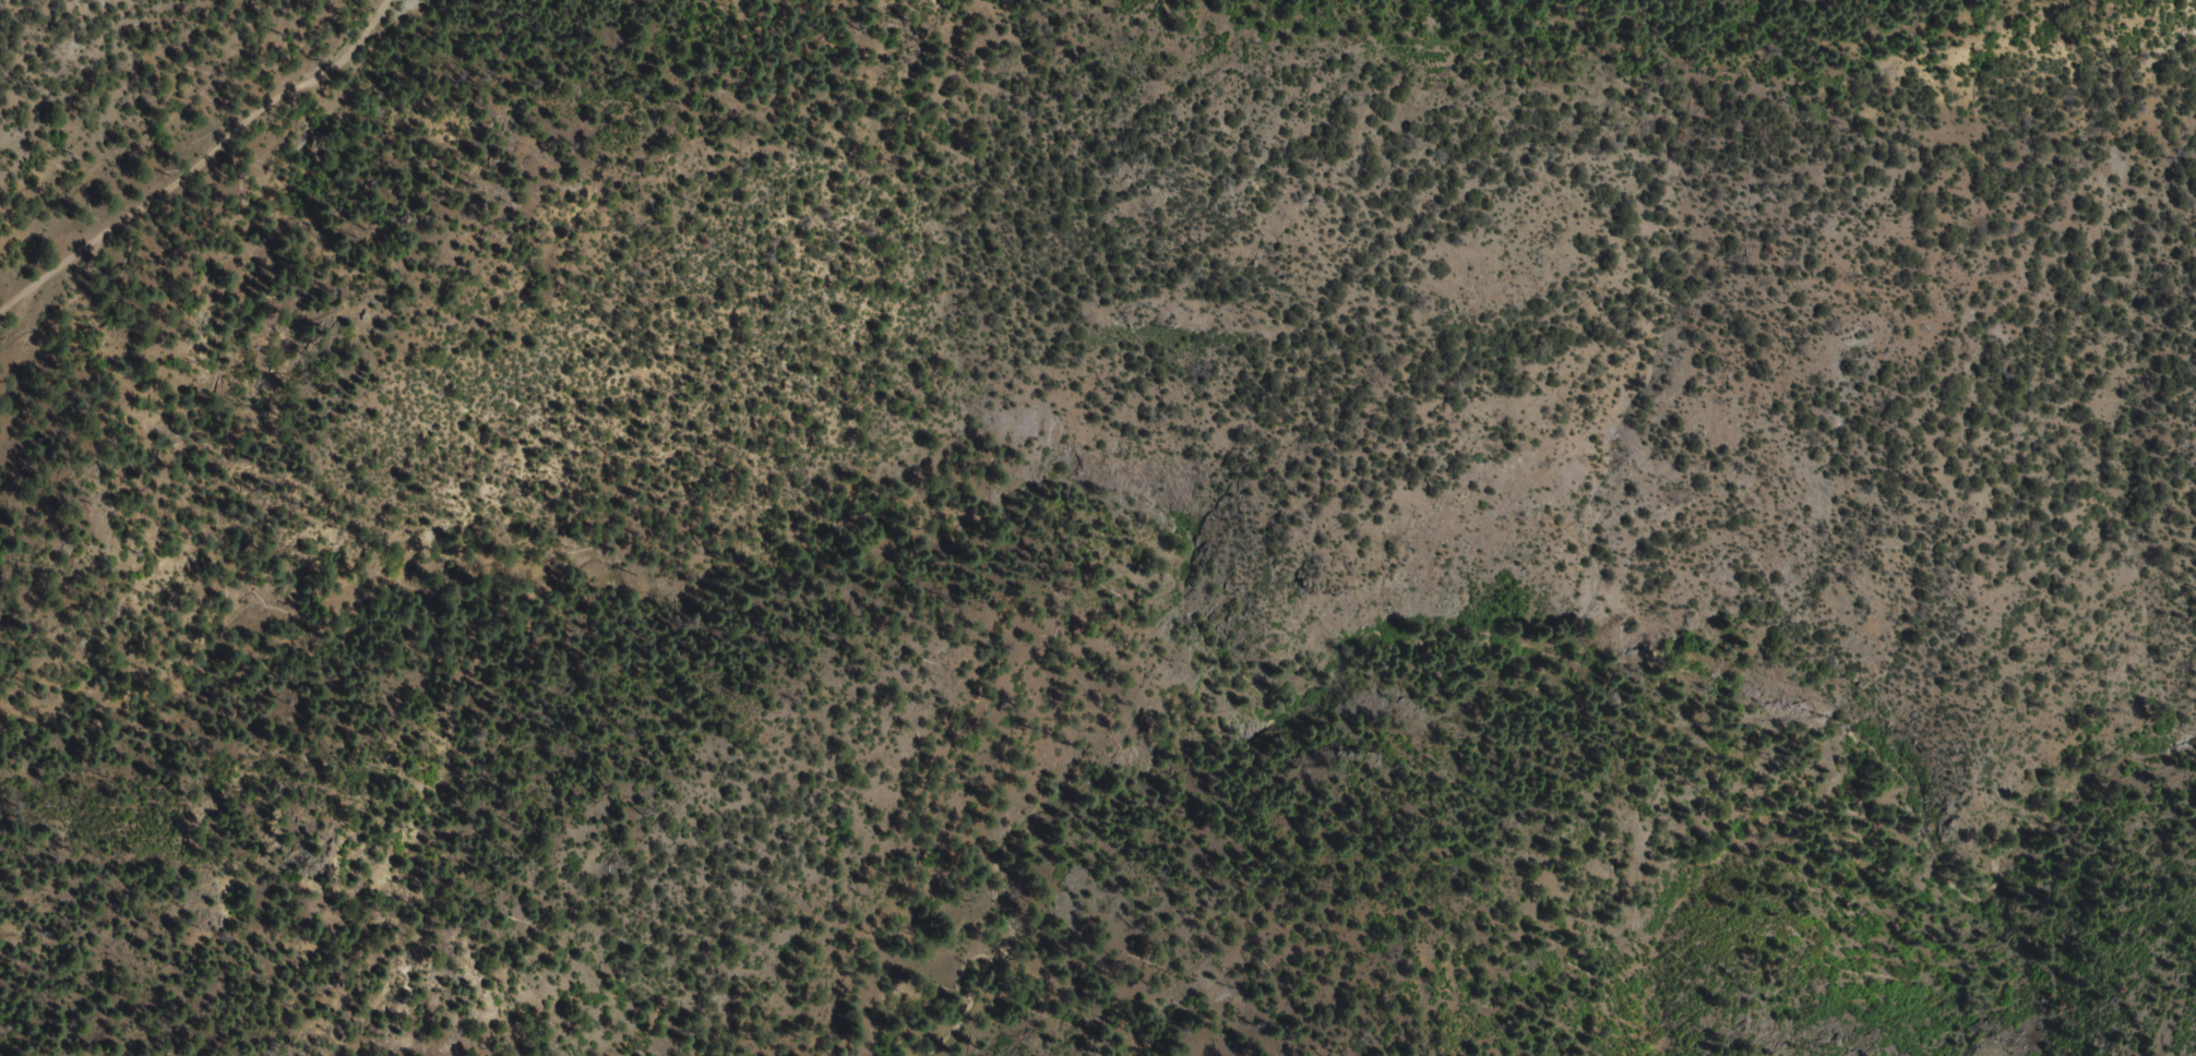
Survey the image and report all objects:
road: (202, 161)
road: (377, 523)
road: (379, 632)
road: (982, 696)

